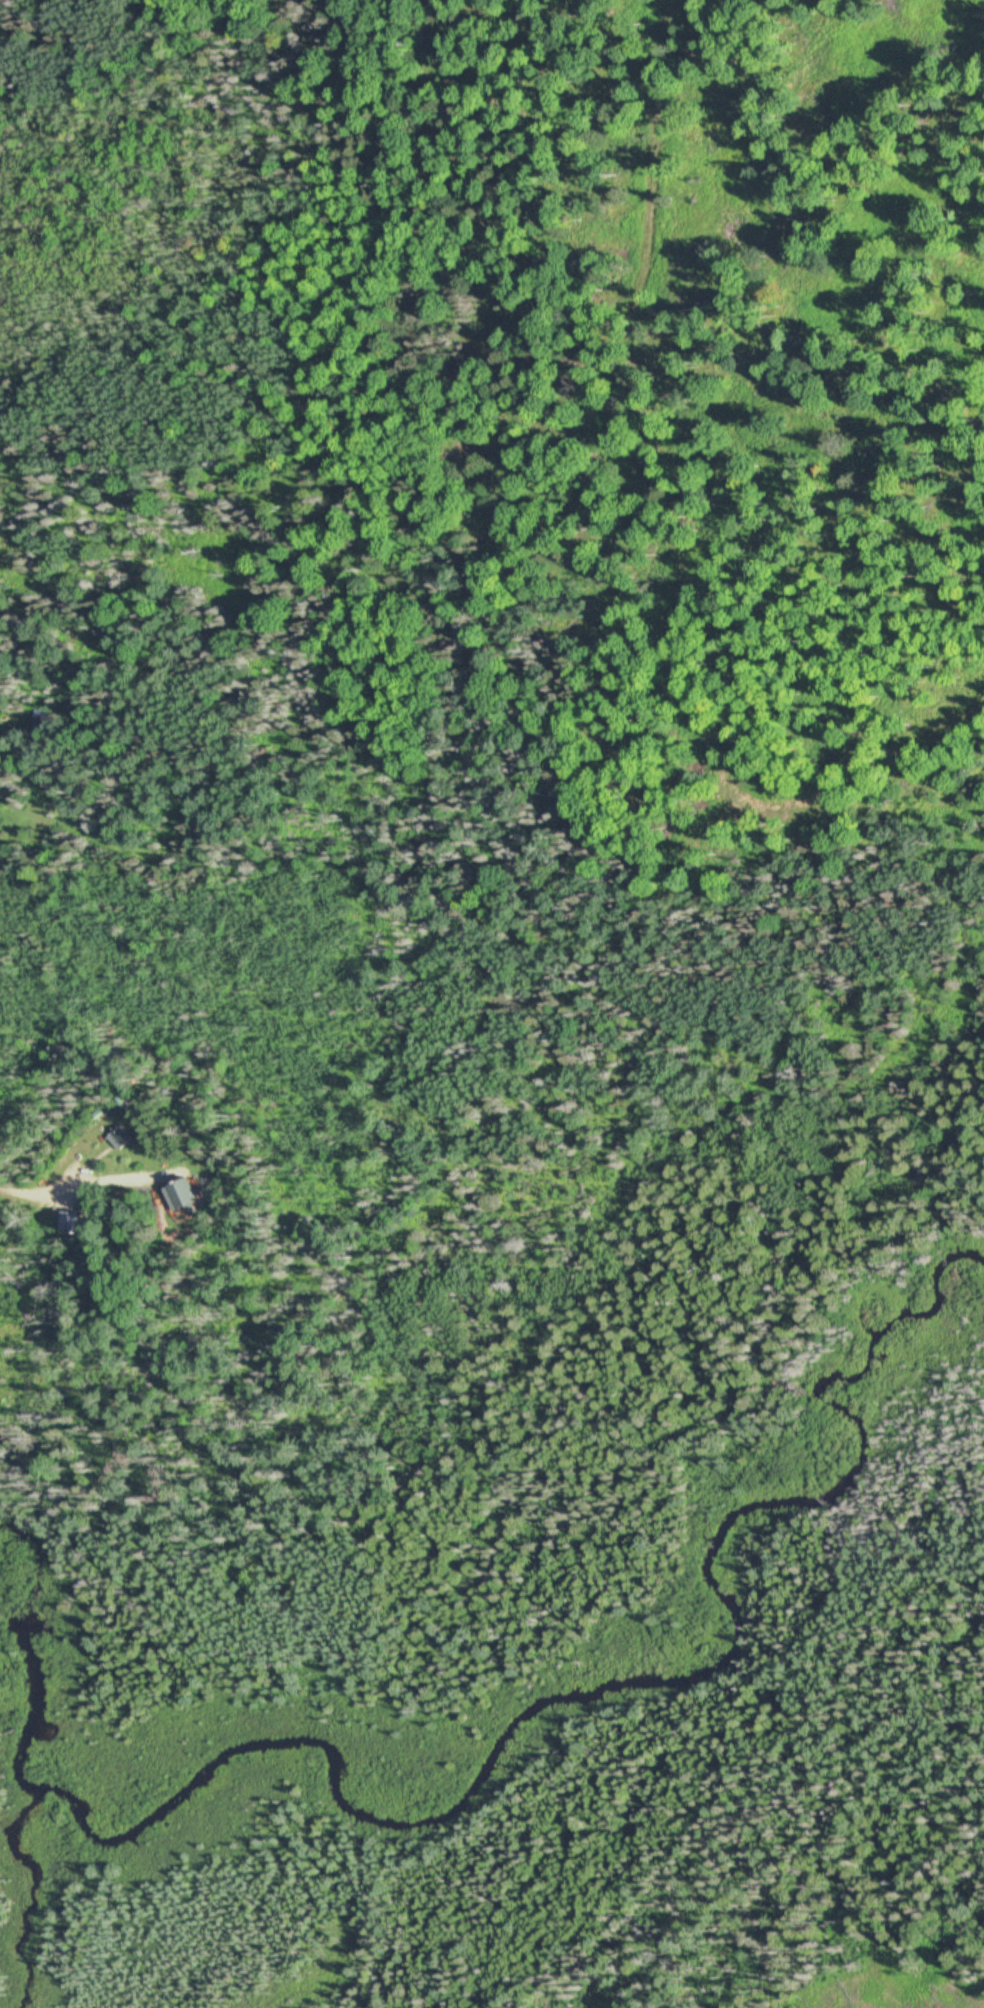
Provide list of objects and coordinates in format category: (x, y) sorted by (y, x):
building: (120, 1139)
building: (185, 1196)

